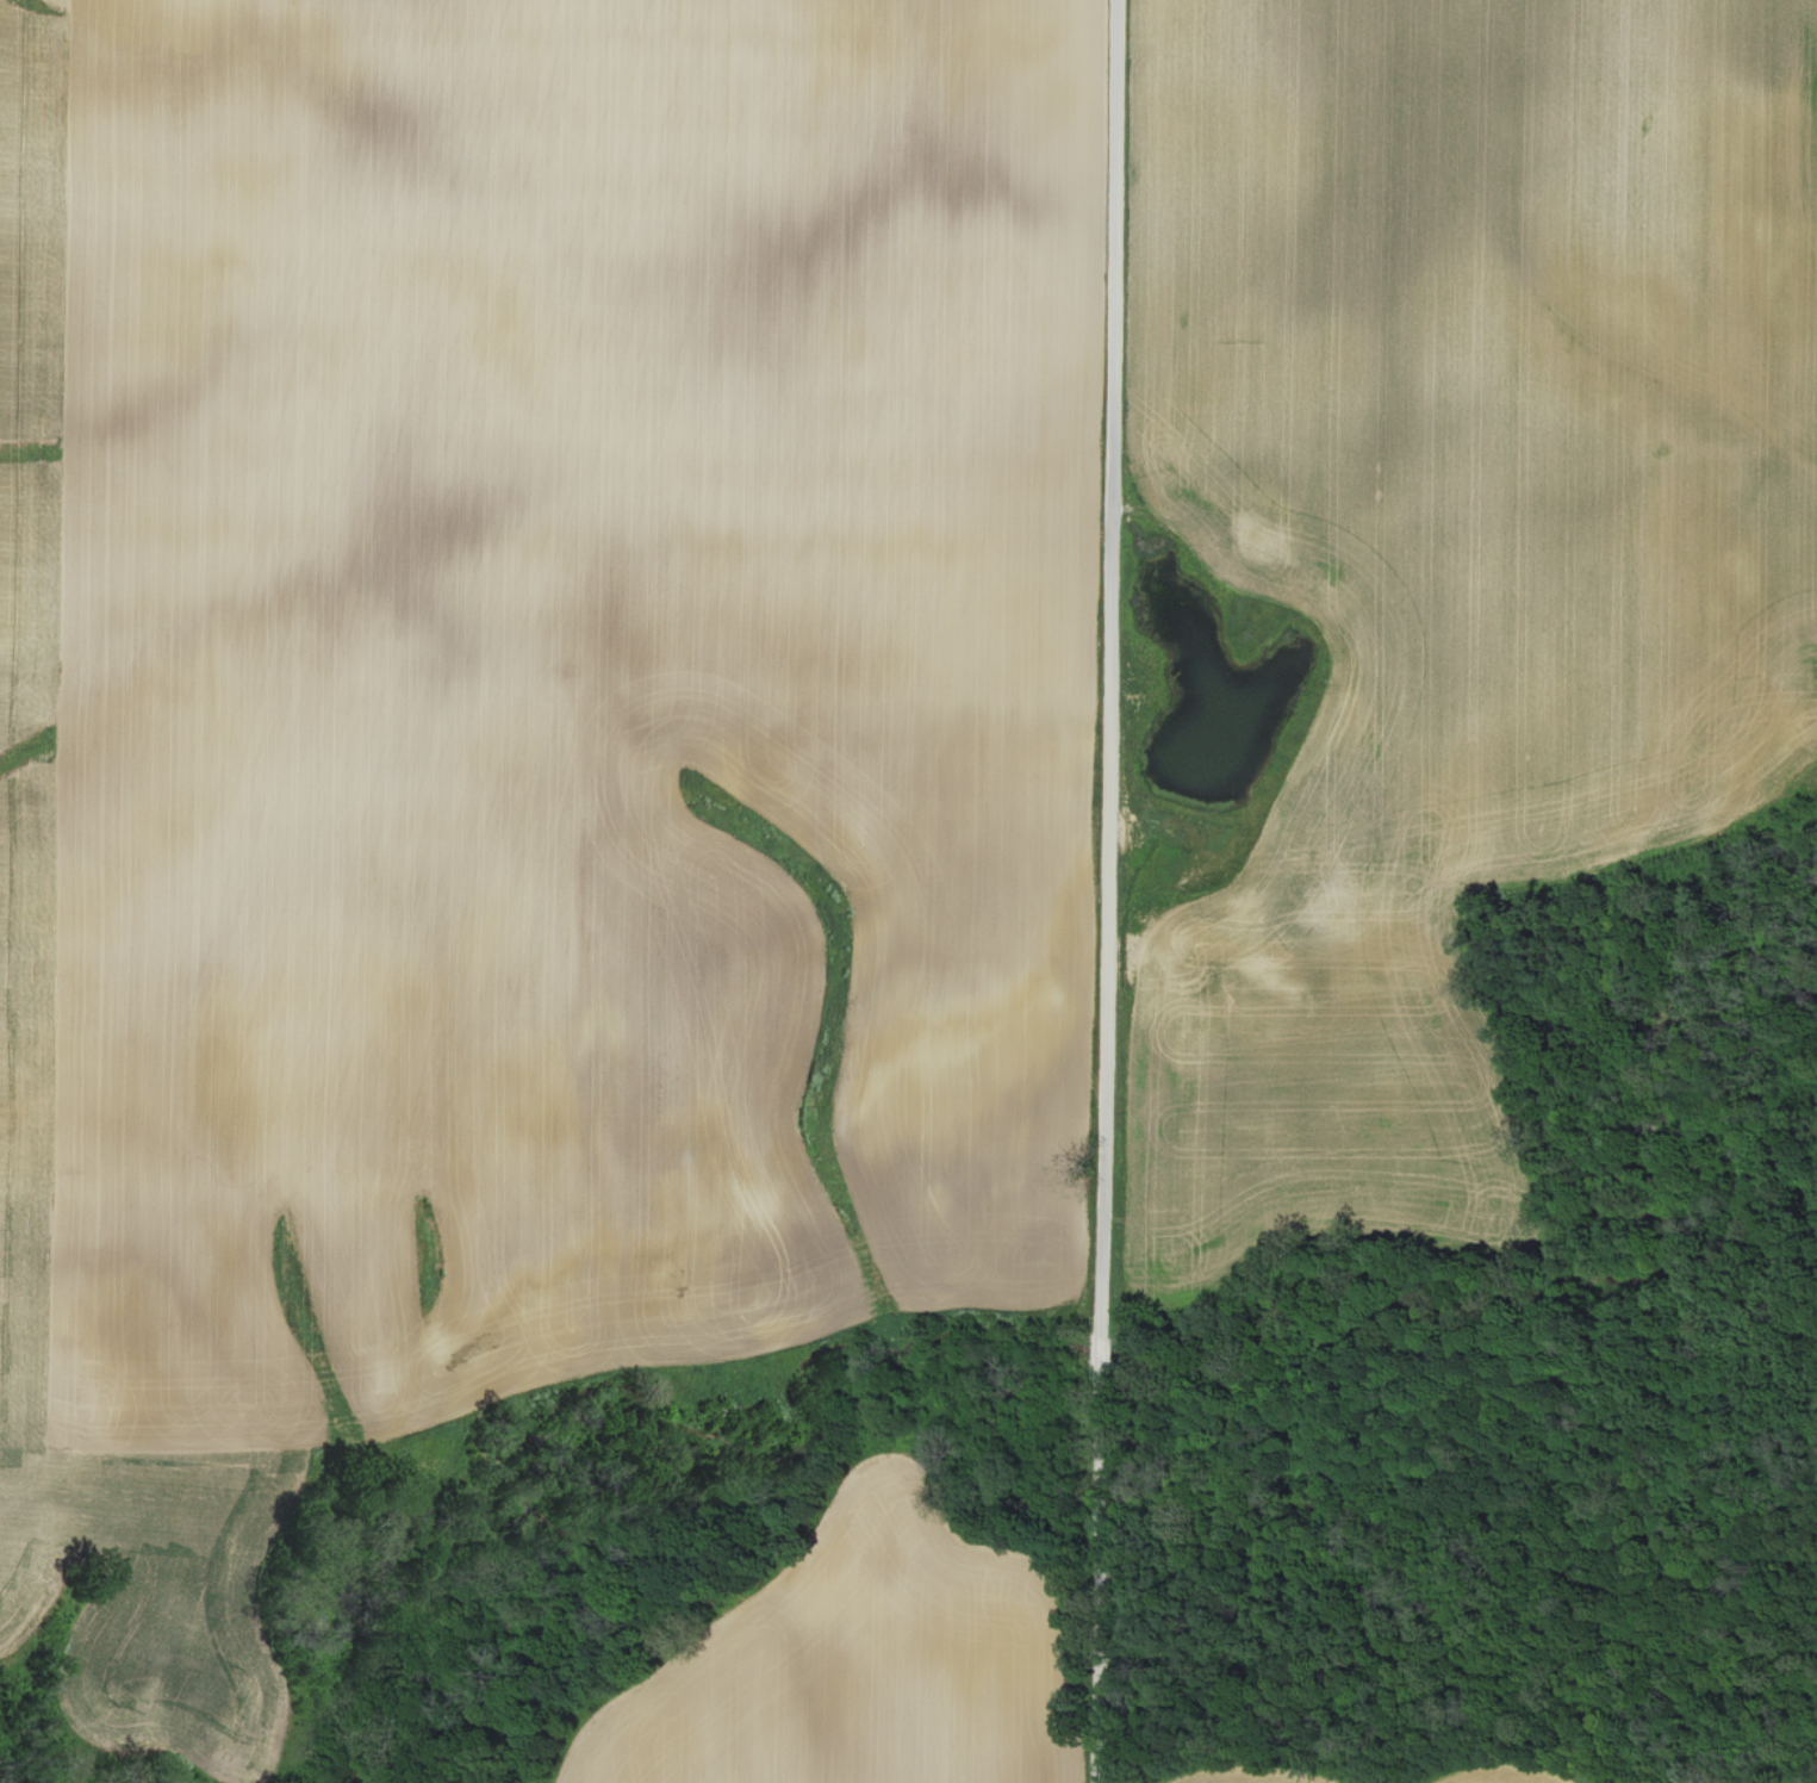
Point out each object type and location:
road: (1115, 891)

